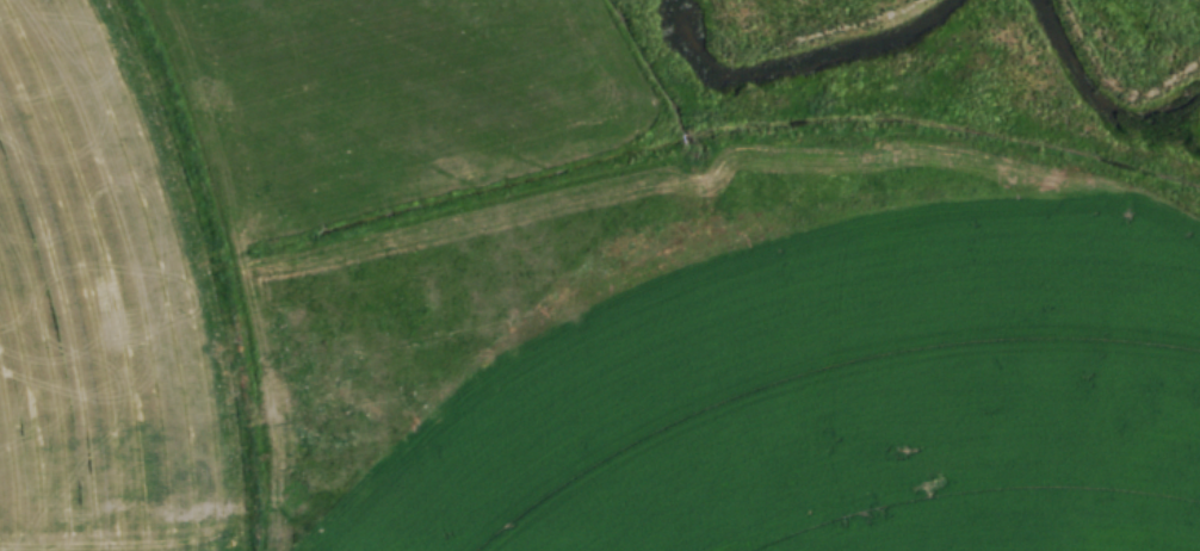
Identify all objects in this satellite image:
road: (1159, 295)

